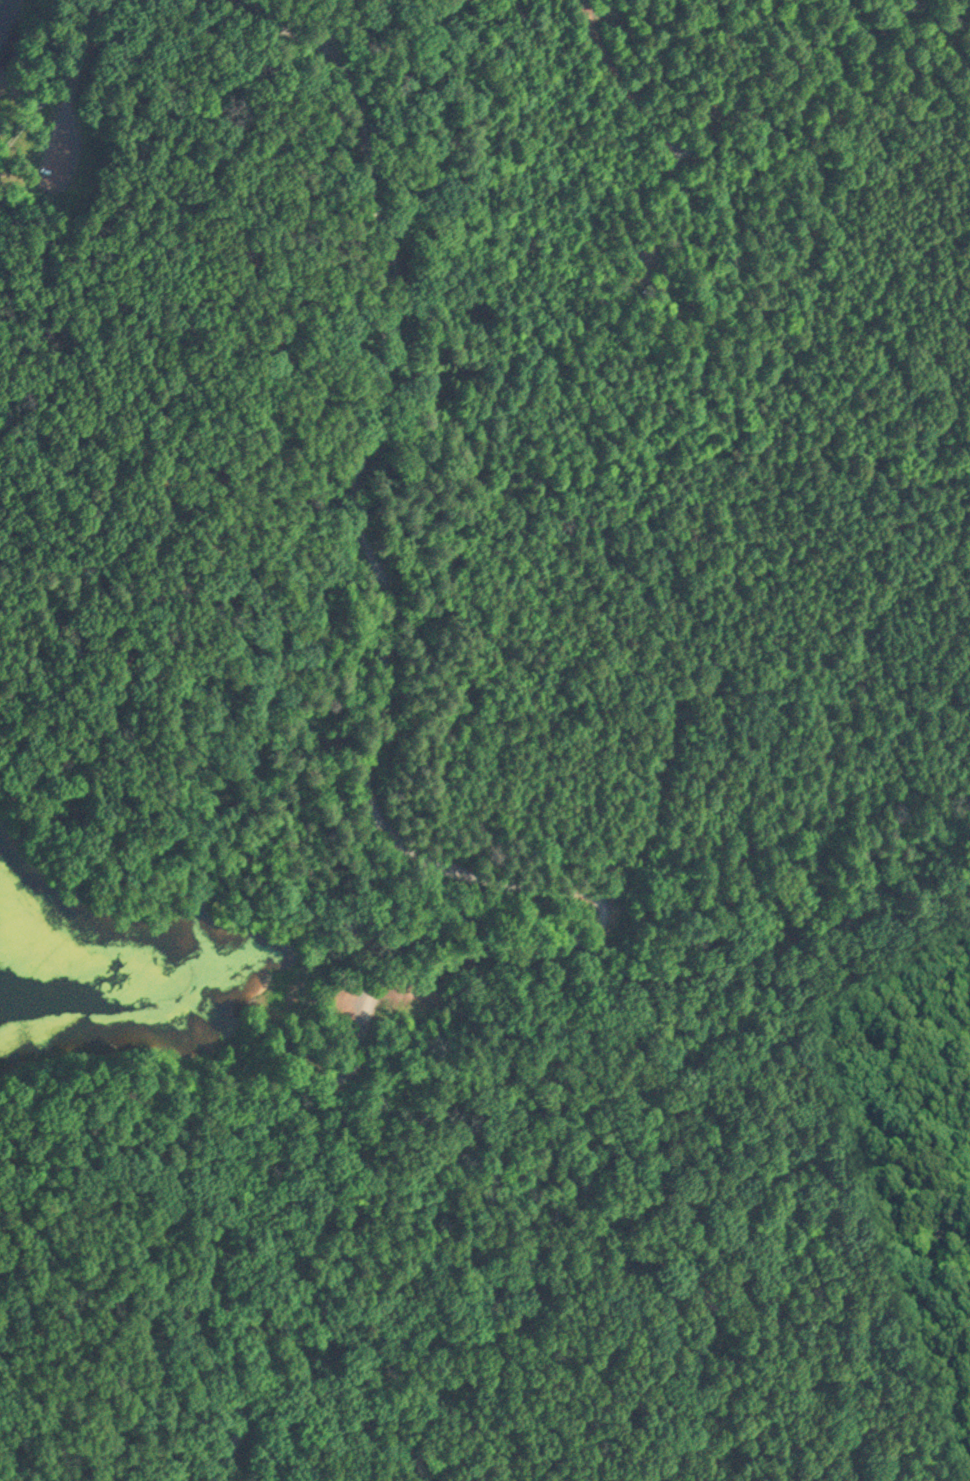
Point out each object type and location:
road: (271, 30)
road: (359, 31)
road: (730, 144)
road: (509, 895)

